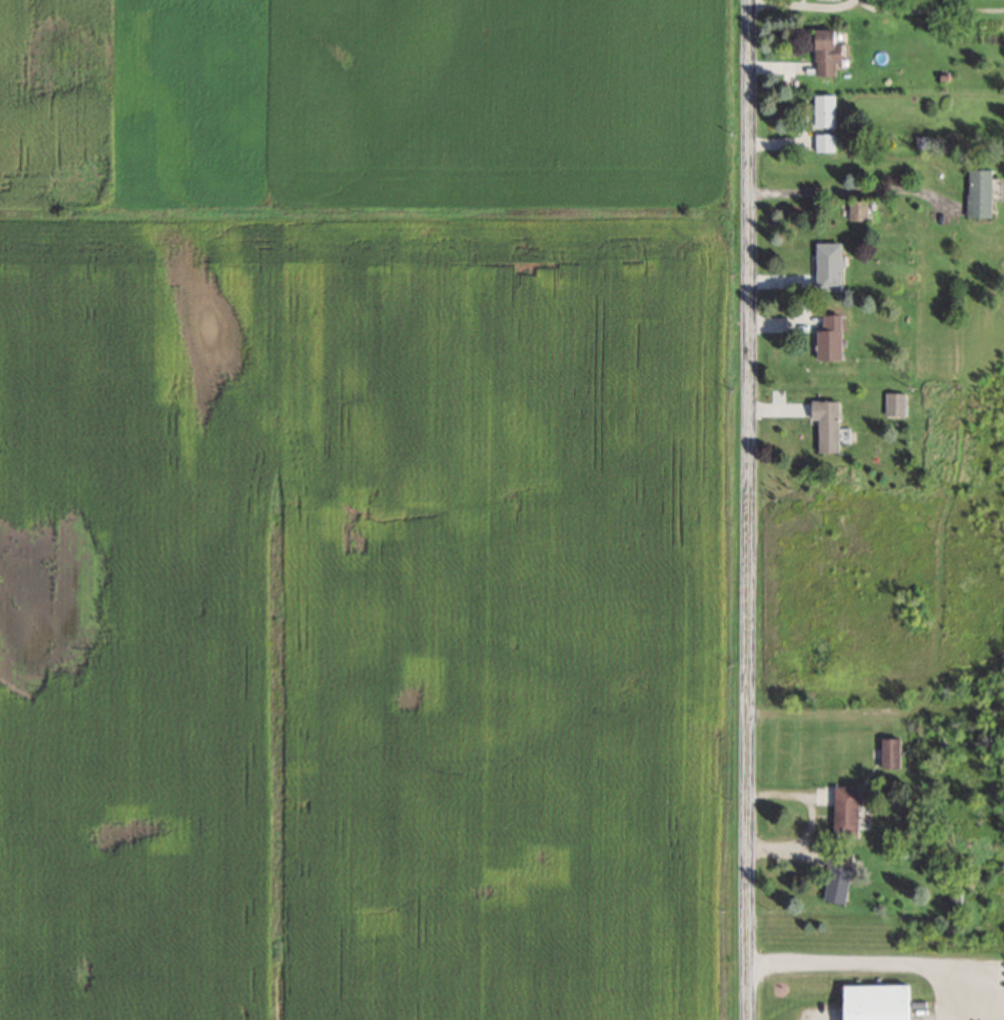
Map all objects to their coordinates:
building: (831, 51)
building: (826, 109)
building: (826, 141)
building: (983, 192)
building: (859, 209)
building: (831, 265)
building: (833, 336)
building: (896, 403)
building: (830, 424)
road: (747, 510)
building: (893, 752)
building: (849, 810)
building: (841, 878)
building: (955, 899)
building: (883, 1001)

